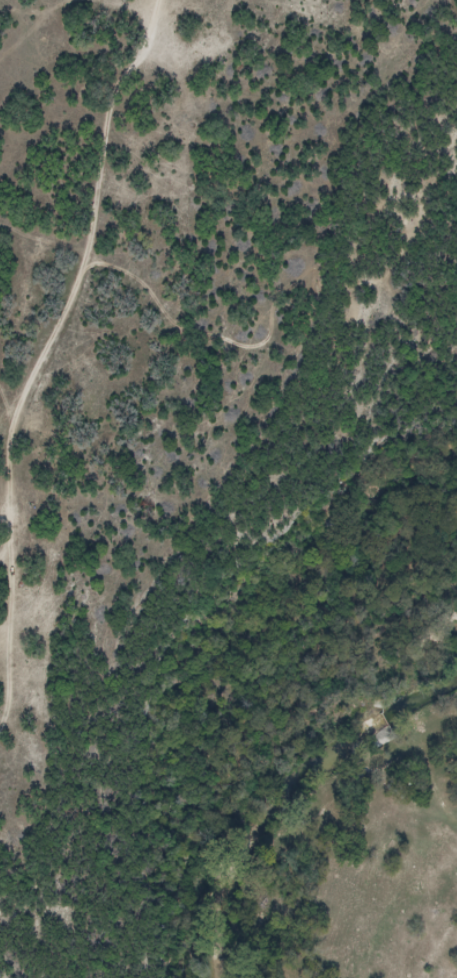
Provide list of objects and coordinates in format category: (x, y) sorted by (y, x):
road: (48, 364)

